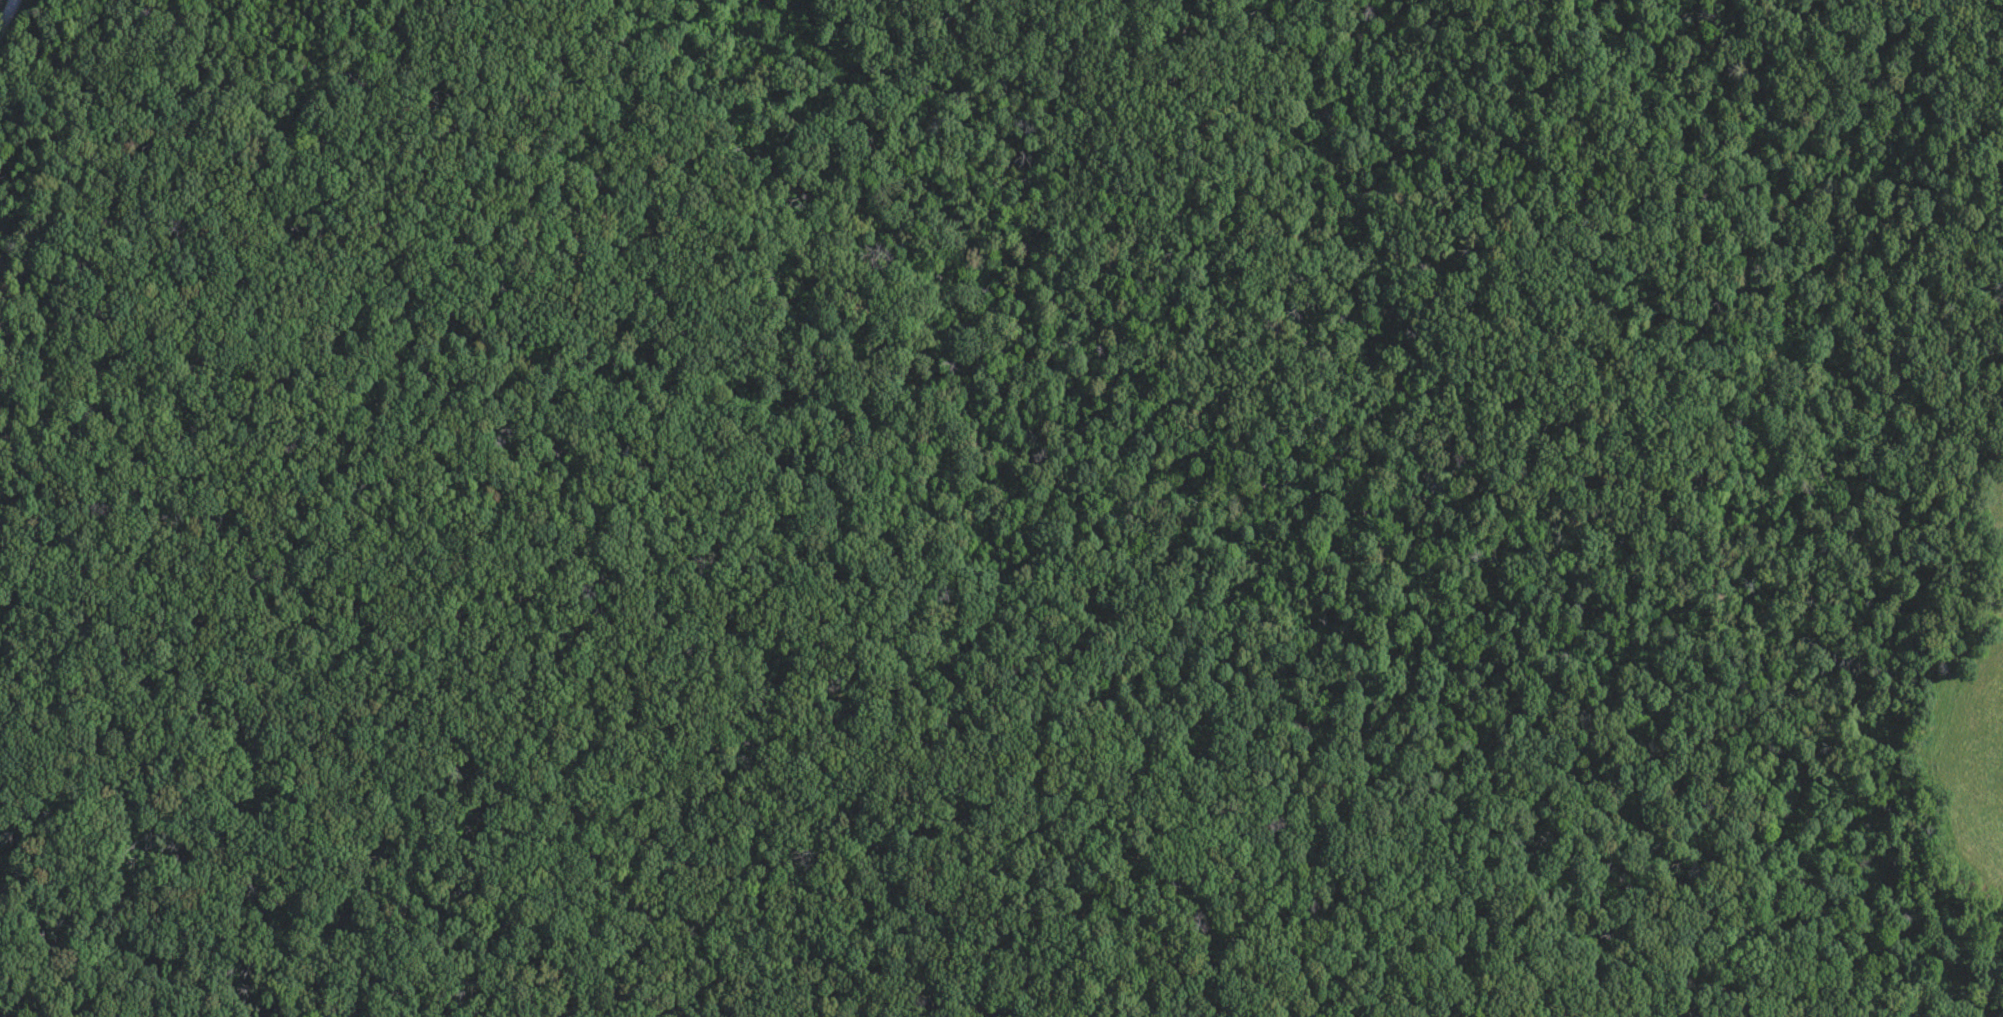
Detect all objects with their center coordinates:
road: (9, 16)

